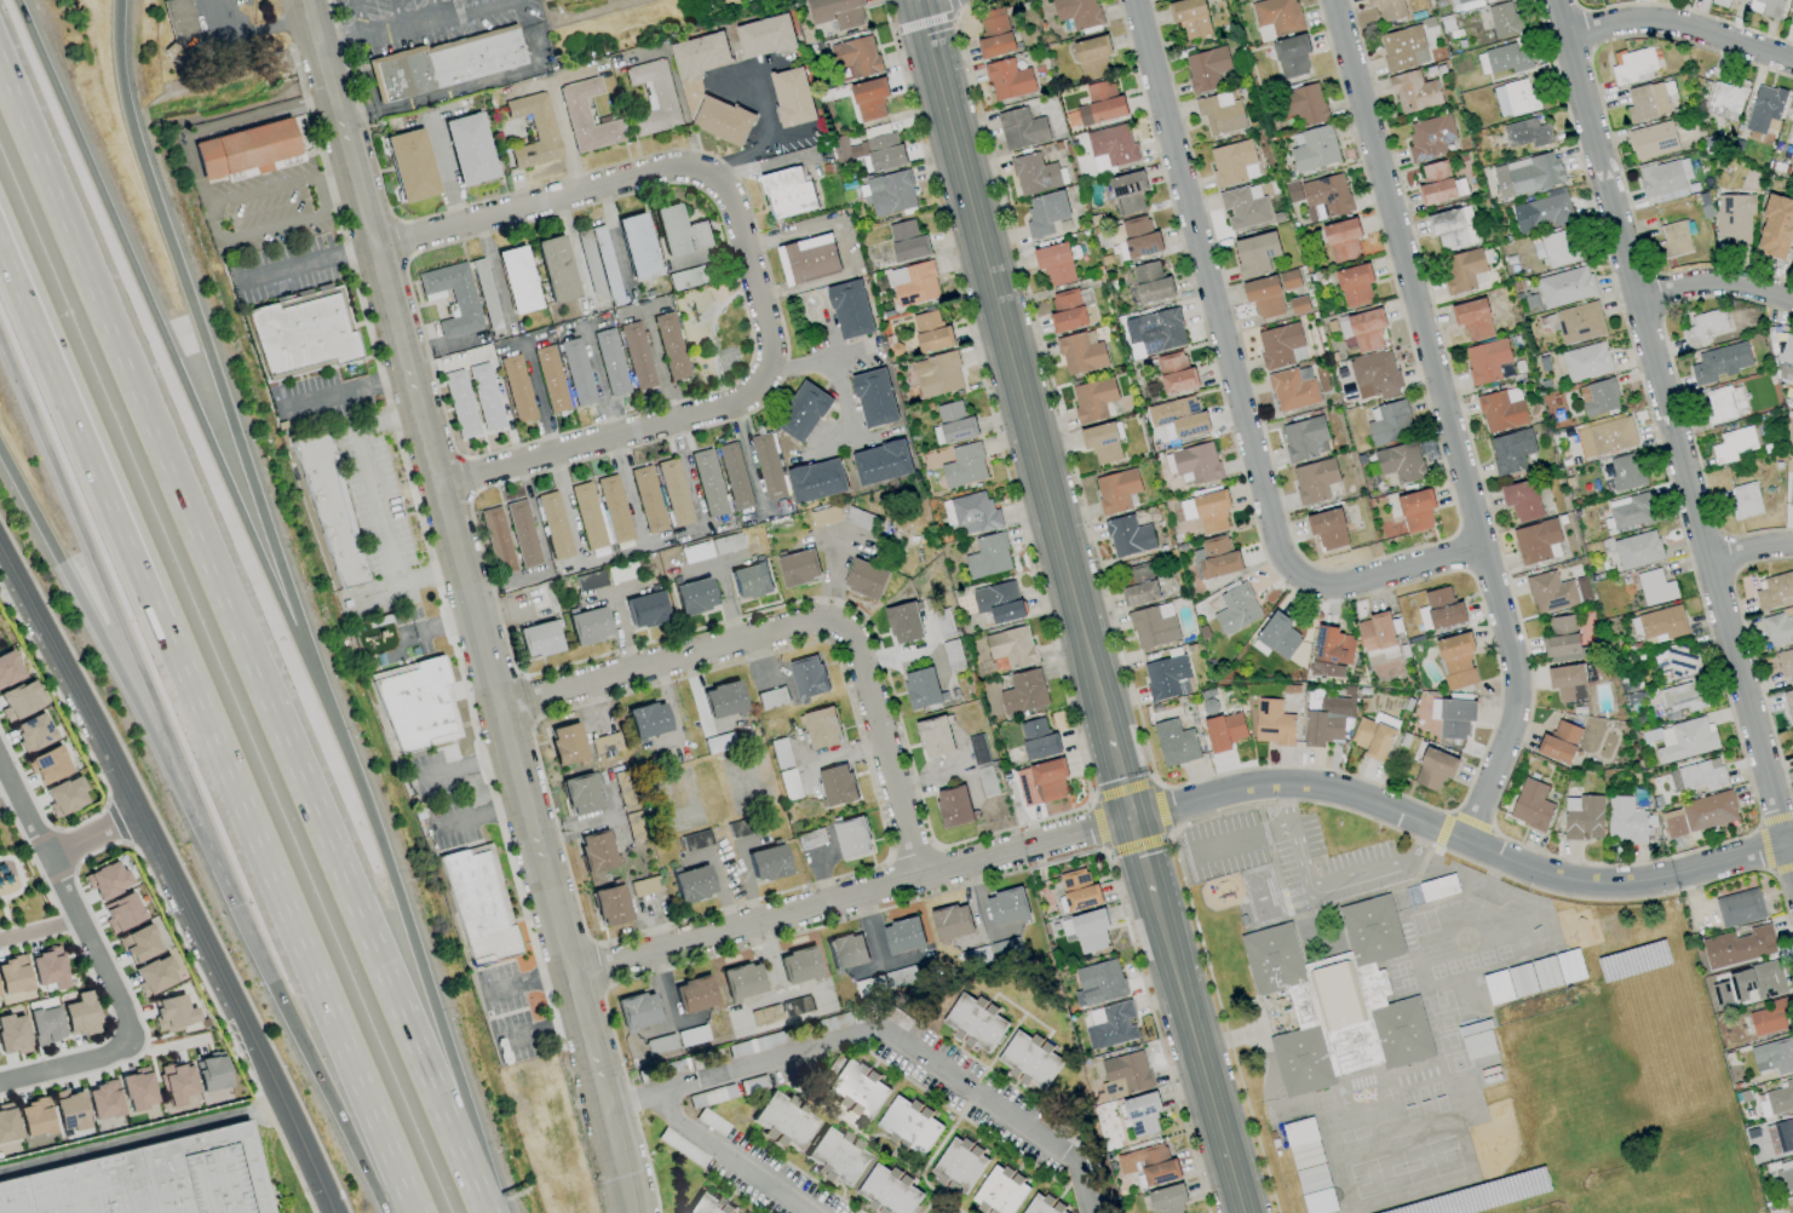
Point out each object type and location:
road: (925, 1)
building: (1740, 1)
building: (1462, 2)
building: (1719, 2)
building: (1766, 7)
building: (1389, 8)
building: (1792, 8)
road: (435, 10)
building: (837, 12)
building: (1077, 12)
road: (400, 16)
building: (1190, 17)
building: (179, 18)
building: (1276, 18)
road: (361, 21)
building: (1504, 21)
road: (1680, 27)
road: (414, 28)
road: (253, 31)
building: (994, 34)
building: (765, 36)
building: (1403, 48)
building: (700, 54)
building: (857, 56)
building: (1292, 56)
building: (1092, 57)
building: (1504, 59)
building: (443, 63)
building: (1633, 65)
building: (1206, 69)
building: (1008, 80)
road: (472, 84)
building: (1099, 90)
building: (1414, 92)
building: (653, 97)
building: (792, 97)
building: (869, 98)
building: (1515, 98)
building: (1726, 99)
building: (1647, 102)
building: (1303, 104)
building: (1764, 108)
building: (1100, 110)
building: (1220, 114)
building: (586, 116)
building: (722, 121)
road: (223, 123)
building: (1021, 128)
building: (1789, 128)
building: (533, 131)
building: (1527, 133)
road: (763, 134)
building: (1430, 138)
building: (1653, 140)
building: (1113, 144)
building: (469, 149)
building: (1314, 149)
building: (872, 151)
building: (254, 153)
building: (1234, 162)
building: (1100, 163)
building: (410, 165)
road: (334, 166)
building: (1034, 174)
building: (1527, 176)
building: (1665, 179)
building: (1436, 184)
building: (1293, 191)
road: (241, 192)
building: (787, 192)
building: (891, 192)
building: (1128, 192)
building: (1326, 197)
building: (1245, 206)
building: (1542, 212)
building: (1045, 213)
building: (1734, 217)
road: (292, 220)
building: (1776, 226)
building: (1452, 228)
building: (679, 231)
building: (1139, 237)
building: (1341, 240)
building: (1674, 240)
building: (907, 241)
building: (637, 247)
building: (1556, 249)
building: (1255, 254)
road: (309, 259)
building: (808, 259)
building: (1792, 259)
building: (1054, 263)
building: (556, 269)
building: (1461, 270)
road: (747, 274)
building: (1289, 278)
building: (517, 280)
road: (1713, 280)
building: (1150, 282)
building: (914, 284)
building: (1355, 284)
building: (1565, 287)
building: (452, 297)
building: (1264, 297)
building: (1065, 299)
building: (1298, 305)
building: (850, 310)
building: (1476, 317)
building: (1068, 320)
building: (1579, 322)
building: (1703, 327)
building: (1367, 329)
building: (306, 332)
building: (931, 332)
building: (1154, 332)
road: (711, 337)
park: (723, 339)
building: (1281, 345)
building: (671, 346)
building: (1787, 350)
building: (1081, 352)
building: (637, 355)
park: (729, 360)
building: (1485, 361)
building: (1585, 361)
building: (610, 362)
building: (1719, 363)
road: (659, 366)
road: (1016, 370)
building: (577, 372)
building: (1176, 373)
building: (1786, 373)
building: (937, 374)
building: (1374, 374)
road: (134, 376)
road: (834, 378)
building: (551, 379)
road: (1231, 384)
road: (597, 387)
building: (517, 389)
building: (1292, 390)
road: (349, 392)
road: (190, 393)
road: (223, 397)
building: (485, 397)
building: (1598, 397)
building: (874, 398)
road: (538, 399)
building: (1092, 399)
building: (460, 403)
building: (1723, 404)
building: (1501, 410)
building: (803, 412)
building: (1178, 416)
road: (1444, 421)
building: (955, 422)
building: (1389, 422)
road: (82, 426)
road: (1671, 431)
building: (1605, 437)
building: (1304, 439)
building: (1102, 443)
building: (1731, 444)
building: (1511, 450)
building: (881, 462)
building: (1196, 462)
building: (1401, 462)
building: (768, 466)
building: (964, 466)
building: (1625, 473)
building: (734, 476)
building: (816, 481)
building: (1314, 481)
building: (707, 482)
building: (1791, 489)
building: (1116, 490)
building: (674, 493)
road: (626, 494)
building: (648, 500)
building: (1521, 500)
building: (1745, 501)
road: (378, 505)
road: (568, 508)
building: (614, 508)
building: (1416, 510)
building: (1207, 511)
building: (1630, 511)
building: (334, 512)
building: (975, 513)
building: (587, 516)
building: (826, 516)
building: (554, 525)
building: (1328, 529)
building: (523, 534)
building: (1128, 536)
building: (498, 540)
building: (1535, 541)
building: (1637, 550)
road: (542, 553)
road: (1751, 553)
building: (988, 556)
building: (1216, 558)
building: (798, 568)
building: (864, 579)
building: (749, 581)
building: (1138, 585)
building: (1655, 587)
building: (1550, 592)
building: (1776, 592)
building: (693, 597)
building: (999, 602)
road: (473, 604)
building: (1442, 608)
building: (1236, 609)
building: (645, 610)
building: (903, 622)
building: (1662, 622)
building: (943, 625)
building: (588, 626)
building: (1153, 626)
building: (1778, 627)
road: (795, 630)
building: (1375, 632)
building: (1277, 637)
building: (1561, 637)
building: (539, 639)
building: (1011, 646)
building: (1331, 651)
building: (952, 655)
road: (139, 657)
building: (1678, 657)
building: (1456, 661)
building: (1786, 662)
building: (8, 668)
building: (808, 677)
building: (1167, 678)
building: (1567, 683)
building: (920, 689)
building: (1792, 691)
building: (1023, 692)
building: (1678, 695)
building: (771, 697)
building: (723, 700)
building: (18, 701)
building: (416, 703)
building: (1791, 713)
building: (1452, 717)
building: (648, 720)
building: (1327, 720)
building: (1272, 723)
building: (821, 728)
building: (1224, 731)
building: (31, 732)
building: (935, 736)
building: (1374, 736)
building: (1038, 740)
building: (1689, 740)
building: (604, 742)
building: (1558, 742)
building: (567, 743)
building: (717, 743)
building: (1174, 743)
building: (977, 749)
building: (47, 765)
building: (1433, 769)
building: (1701, 775)
road: (1122, 780)
building: (987, 781)
building: (1041, 782)
building: (837, 786)
building: (581, 794)
building: (64, 797)
road: (10, 801)
road: (1183, 804)
building: (1531, 804)
building: (953, 806)
building: (1708, 810)
building: (1585, 818)
building: (1625, 820)
building: (1674, 822)
road: (205, 830)
road: (93, 837)
building: (851, 838)
building: (810, 839)
building: (696, 840)
road: (1242, 844)
building: (596, 851)
road: (1144, 857)
building: (766, 863)
park: (27, 878)
building: (105, 880)
road: (174, 881)
building: (693, 884)
road: (747, 885)
building: (644, 886)
building: (1438, 887)
building: (1079, 890)
road: (1326, 890)
road: (722, 891)
building: (610, 906)
building: (1006, 907)
building: (1740, 907)
building: (481, 910)
building: (121, 912)
road: (292, 916)
building: (950, 922)
road: (39, 927)
building: (1086, 930)
building: (903, 936)
building: (138, 944)
building: (1737, 947)
building: (846, 952)
road: (379, 956)
road: (102, 962)
building: (798, 965)
building: (1570, 966)
building: (48, 968)
building: (1545, 972)
building: (13, 976)
building: (154, 976)
building: (1522, 979)
building: (1764, 979)
road: (528, 981)
building: (741, 981)
building: (1098, 983)
building: (1498, 987)
building: (694, 994)
road: (435, 998)
building: (1338, 1000)
building: (795, 1006)
road: (1024, 1008)
building: (637, 1010)
building: (172, 1013)
building: (80, 1014)
building: (765, 1014)
building: (1769, 1018)
building: (972, 1023)
building: (1473, 1023)
building: (45, 1025)
building: (1110, 1025)
road: (881, 1029)
building: (12, 1034)
road: (959, 1042)
road: (861, 1044)
building: (1478, 1045)
road: (999, 1048)
road: (1199, 1054)
building: (1774, 1056)
building: (1029, 1062)
road: (984, 1064)
road: (869, 1067)
road: (789, 1071)
building: (211, 1073)
building: (1125, 1074)
road: (1016, 1080)
building: (174, 1083)
building: (137, 1088)
building: (855, 1091)
building: (1780, 1097)
road: (798, 1098)
building: (103, 1100)
road: (925, 1104)
building: (69, 1110)
road: (839, 1110)
building: (1142, 1114)
building: (34, 1117)
road: (967, 1117)
building: (781, 1120)
building: (7, 1123)
building: (908, 1127)
building: (1299, 1132)
road: (851, 1134)
building: (1785, 1134)
road: (880, 1136)
road: (975, 1136)
road: (139, 1138)
road: (768, 1142)
building: (1306, 1155)
road: (900, 1156)
road: (734, 1157)
building: (834, 1157)
building: (958, 1165)
building: (1149, 1165)
road: (1016, 1166)
road: (799, 1168)
building: (1786, 1175)
road: (820, 1178)
building: (1312, 1178)
road: (743, 1180)
road: (1076, 1182)
building: (150, 1183)
road: (942, 1189)
building: (886, 1192)
building: (998, 1192)
road: (742, 1195)
road: (941, 1195)
road: (1061, 1195)
building: (1167, 1198)
road: (923, 1200)
building: (701, 1205)
building: (1039, 1207)
road: (861, 1208)
road: (960, 1211)
road: (875, 1212)
building: (931, 1212)

